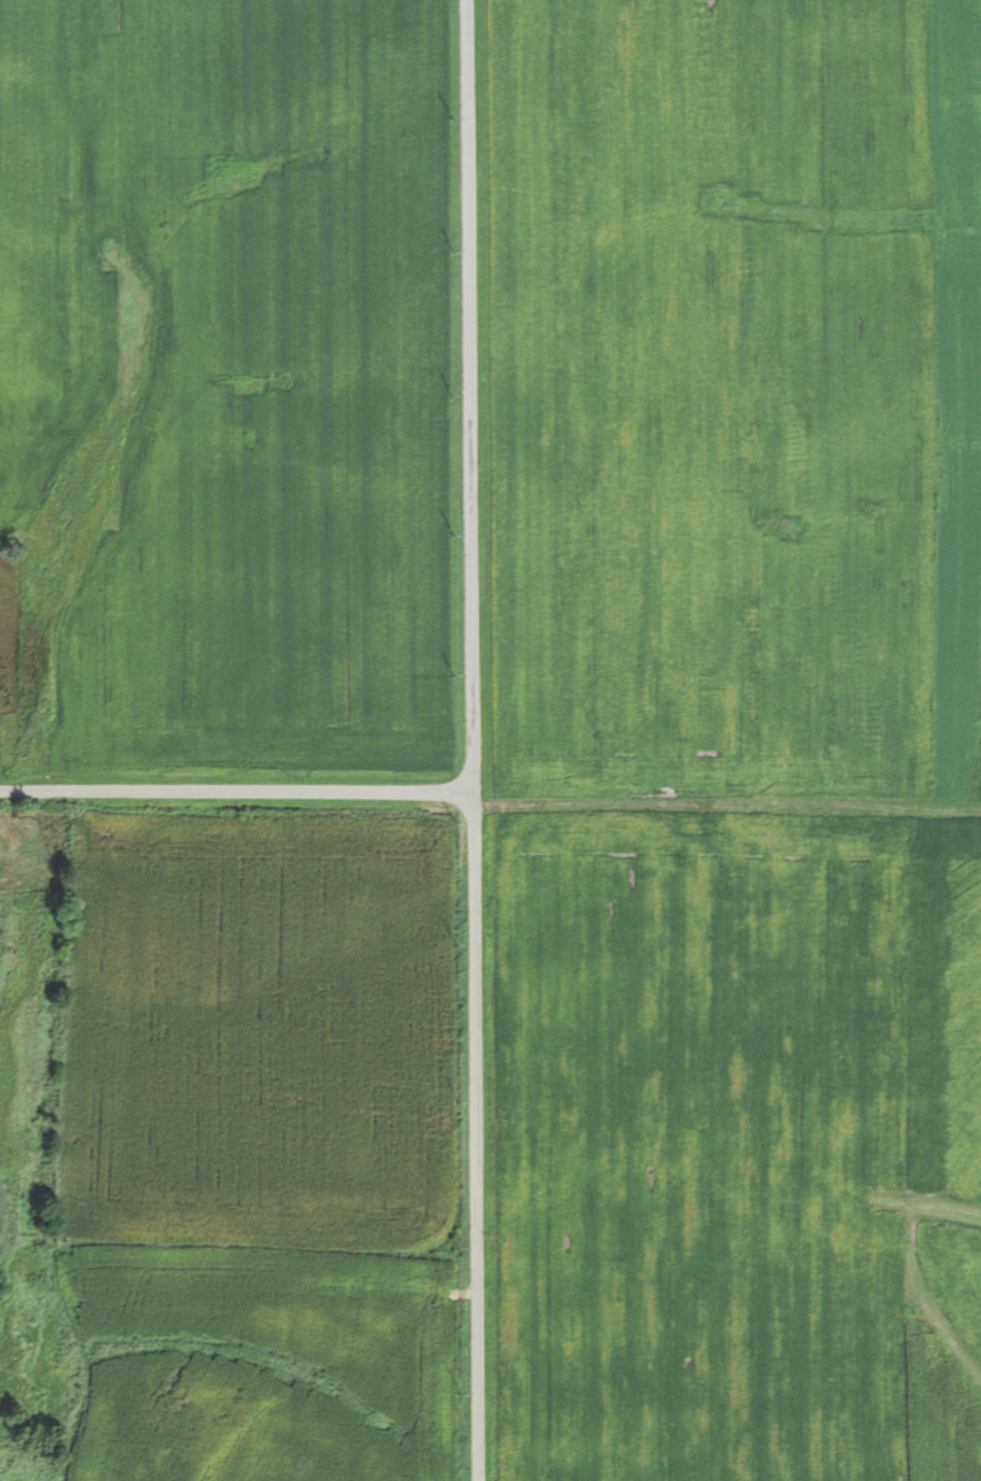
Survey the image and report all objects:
road: (471, 740)
road: (236, 790)

